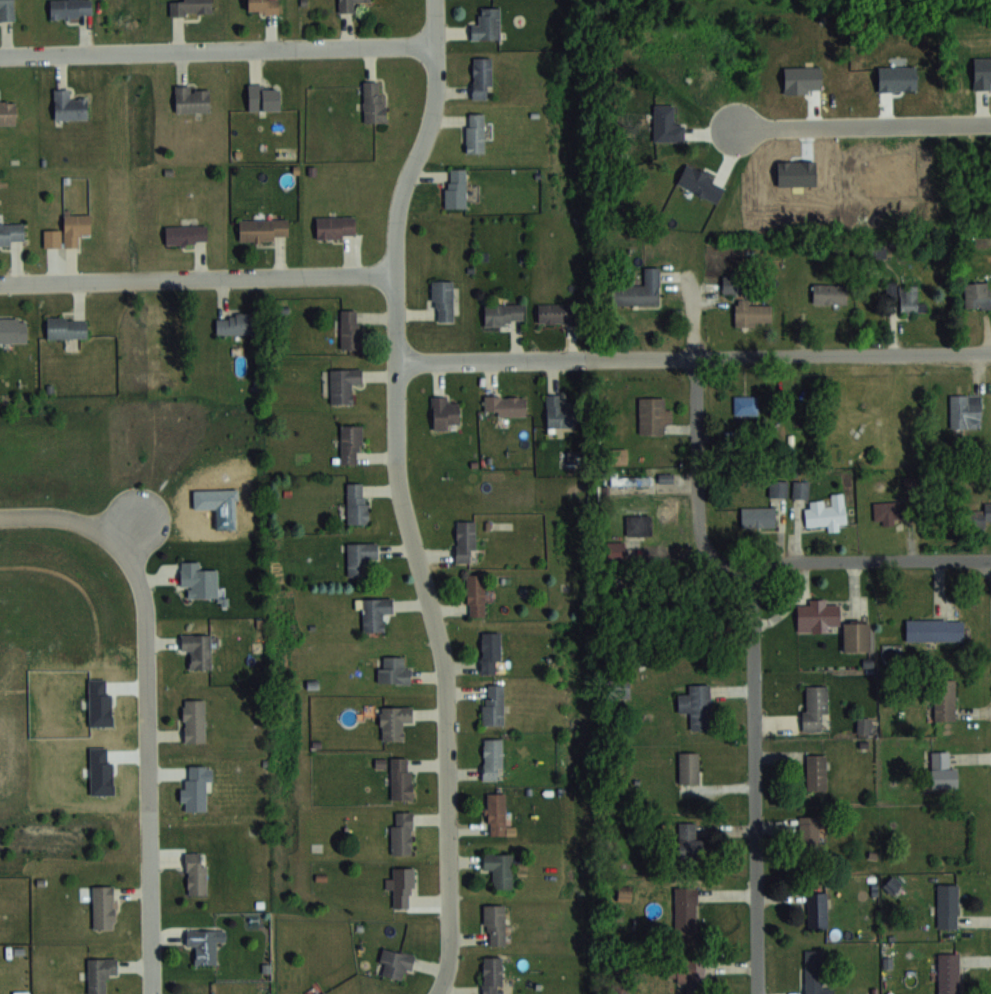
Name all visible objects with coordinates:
building: (262, 6)
building: (348, 6)
building: (191, 7)
building: (70, 8)
building: (7, 9)
building: (486, 24)
road: (217, 49)
building: (481, 77)
building: (264, 96)
building: (192, 98)
building: (374, 101)
building: (68, 105)
building: (7, 112)
road: (864, 126)
building: (475, 132)
building: (455, 188)
building: (335, 227)
building: (263, 229)
building: (68, 231)
building: (11, 233)
building: (186, 234)
road: (197, 279)
building: (732, 285)
building: (639, 290)
building: (829, 293)
building: (977, 295)
building: (905, 297)
building: (442, 300)
building: (503, 313)
building: (554, 313)
building: (753, 313)
building: (234, 324)
building: (66, 327)
building: (350, 328)
building: (13, 329)
road: (692, 357)
building: (342, 384)
building: (745, 404)
building: (504, 405)
building: (965, 410)
building: (561, 412)
building: (444, 413)
building: (652, 415)
building: (350, 444)
road: (695, 453)
building: (630, 480)
building: (778, 487)
building: (800, 489)
road: (401, 496)
building: (356, 503)
building: (900, 503)
building: (827, 512)
building: (758, 516)
building: (979, 517)
building: (638, 524)
building: (465, 540)
building: (615, 549)
building: (360, 557)
road: (845, 561)
building: (201, 585)
building: (476, 594)
building: (375, 613)
building: (817, 617)
building: (934, 629)
building: (857, 638)
building: (197, 650)
building: (490, 652)
building: (393, 669)
road: (143, 691)
building: (944, 699)
building: (492, 703)
building: (696, 705)
building: (814, 708)
building: (194, 720)
building: (394, 721)
building: (492, 758)
building: (688, 767)
building: (943, 770)
building: (815, 772)
building: (401, 778)
road: (751, 778)
building: (196, 786)
building: (495, 813)
building: (401, 832)
building: (810, 833)
building: (687, 839)
building: (499, 868)
building: (195, 874)
building: (402, 886)
building: (685, 904)
building: (947, 905)
building: (103, 906)
building: (817, 909)
building: (494, 924)
building: (202, 946)
building: (394, 963)
building: (813, 963)
building: (686, 969)
building: (100, 973)
building: (948, 973)
building: (491, 974)
building: (818, 990)
building: (322, 992)

